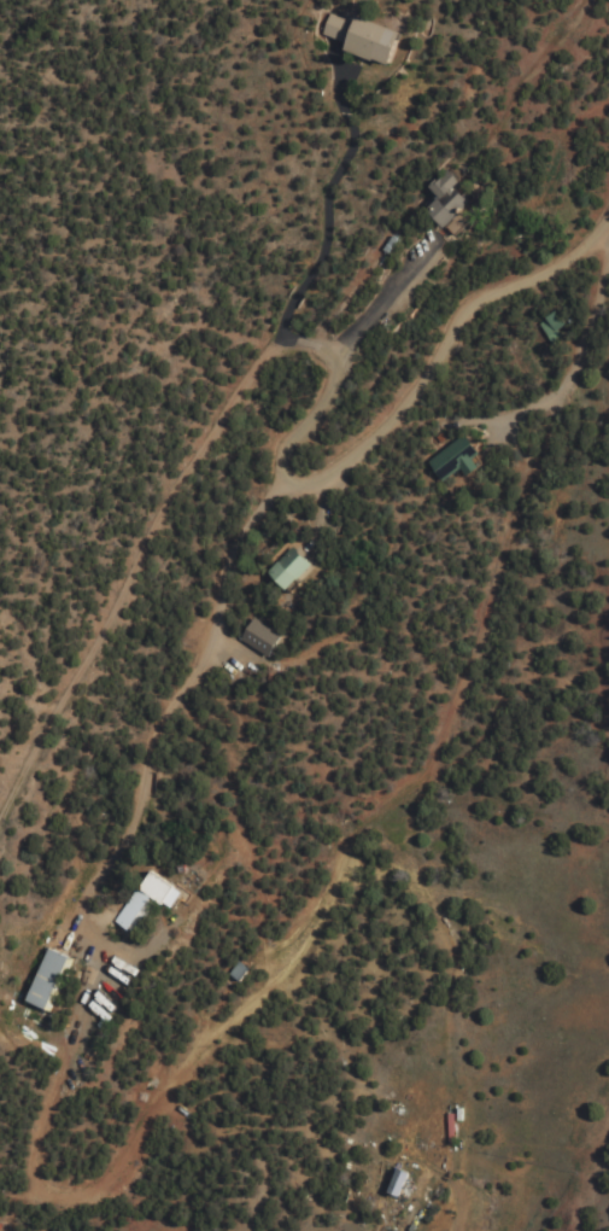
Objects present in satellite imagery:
building: (359, 37)
building: (445, 199)
road: (440, 349)
building: (453, 460)
road: (177, 474)
building: (286, 568)
building: (133, 911)
building: (42, 980)
road: (175, 1074)
building: (447, 1127)
building: (396, 1182)

